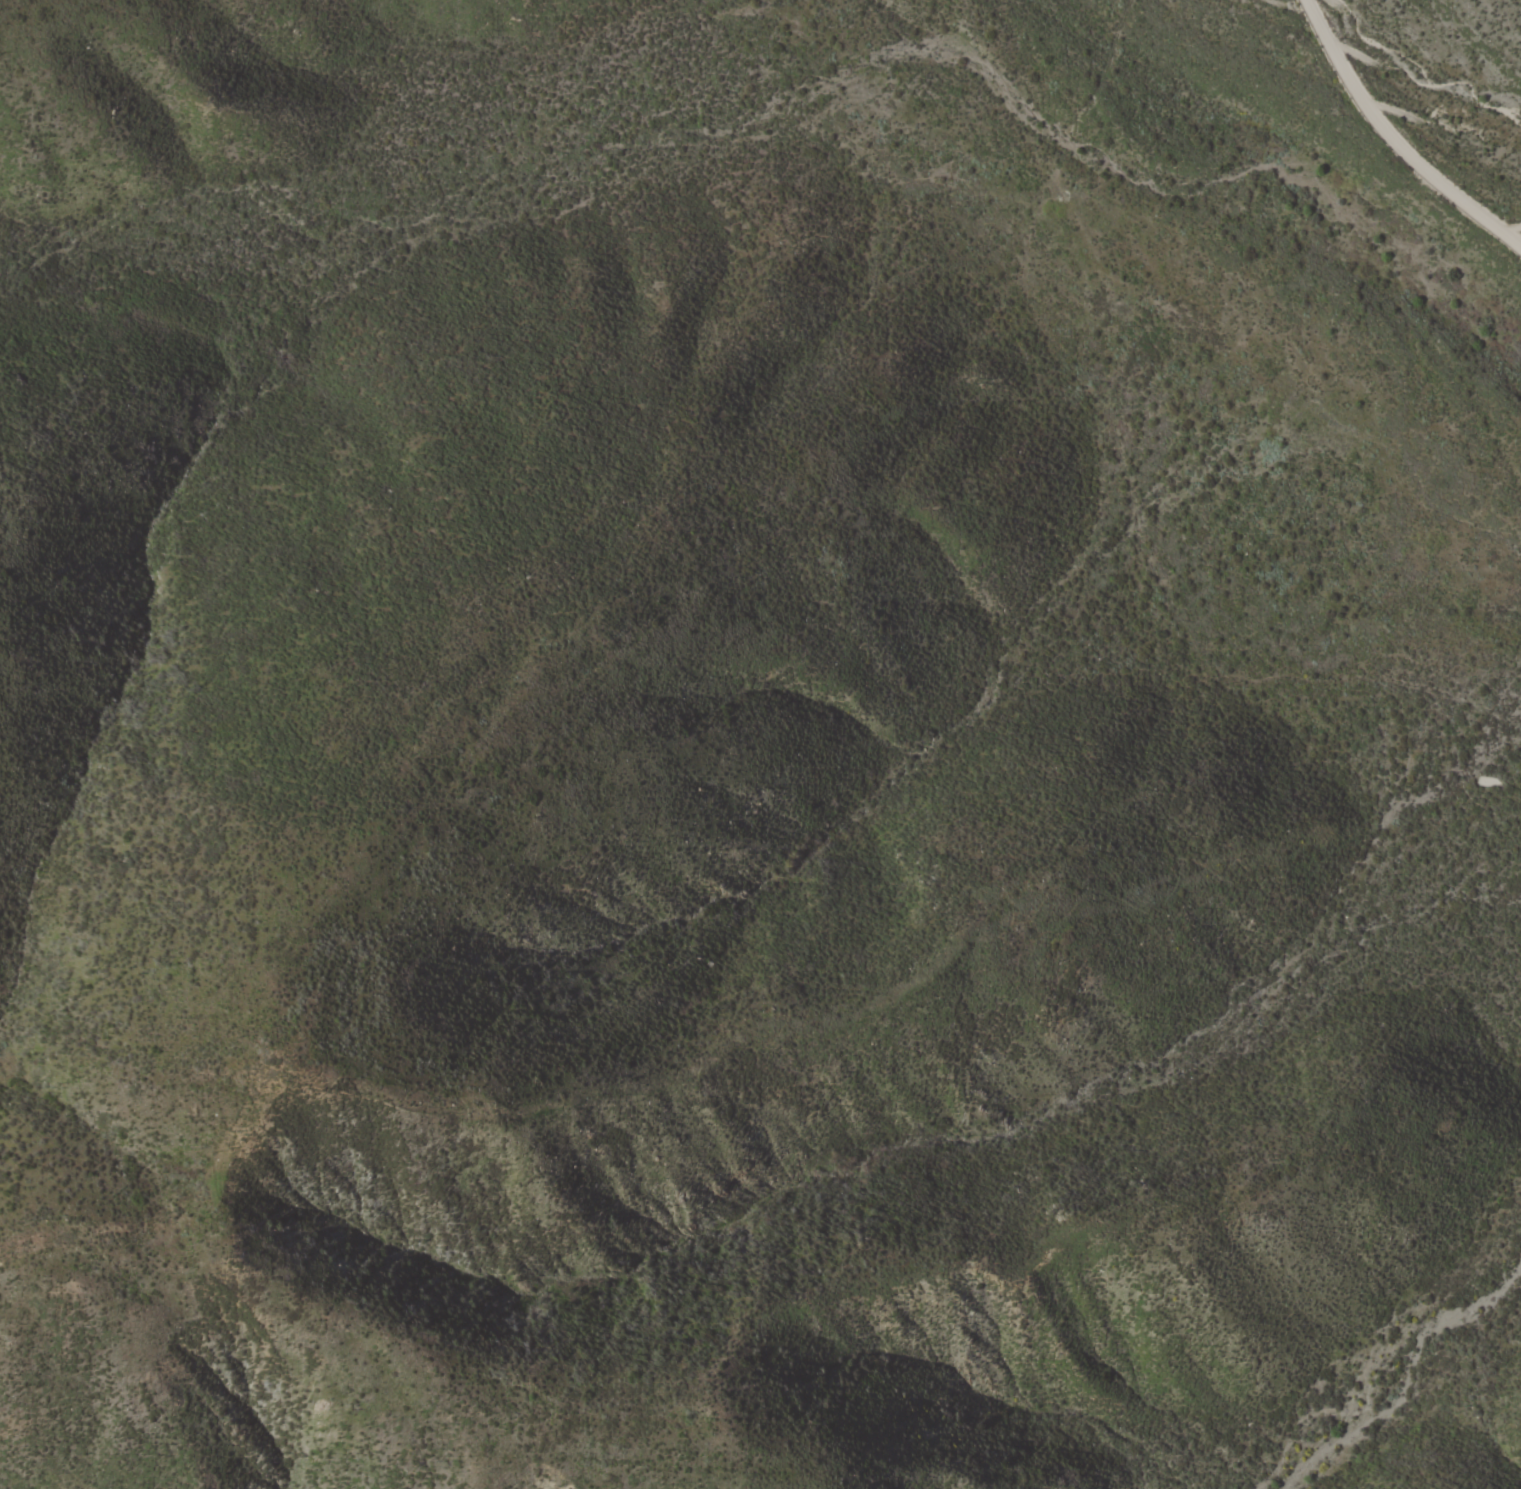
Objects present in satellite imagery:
road: (1391, 141)

